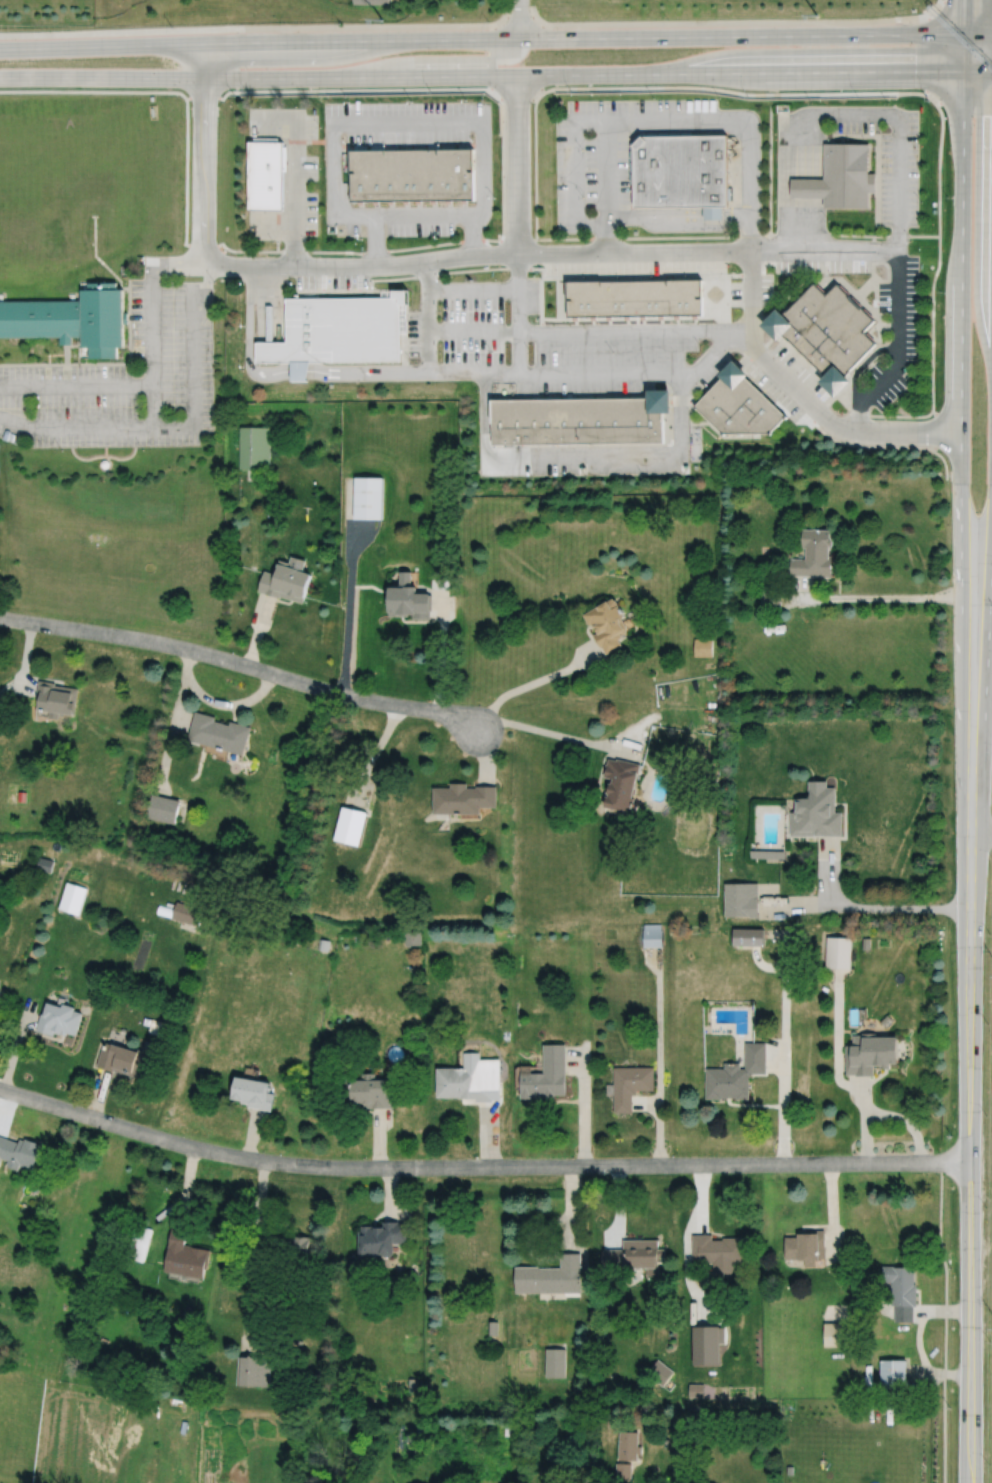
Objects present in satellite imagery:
building: (371, 2)
road: (937, 3)
road: (963, 7)
street lamp: (804, 17)
road: (965, 18)
street lamp: (667, 19)
road: (520, 20)
street lamp: (487, 21)
street lamp: (339, 23)
road: (729, 23)
street lamp: (171, 26)
road: (259, 28)
road: (978, 35)
traffic signals: (965, 36)
road: (482, 39)
road: (934, 51)
road: (964, 53)
road: (433, 59)
traffic signals: (964, 71)
road: (978, 71)
road: (740, 73)
road: (258, 77)
road: (363, 89)
road: (88, 91)
street lamp: (571, 91)
road: (733, 92)
road: (181, 94)
street lamp: (857, 95)
road: (962, 95)
road: (518, 97)
street lamp: (748, 97)
street lamp: (654, 98)
street lamp: (719, 98)
street lamp: (348, 100)
street lamp: (412, 100)
street lamp: (466, 100)
street lamp: (811, 103)
street lamp: (888, 103)
street lamp: (929, 103)
street lamp: (259, 105)
street lamp: (295, 106)
road: (802, 114)
road: (645, 119)
parking lot: (407, 121)
road: (444, 123)
street lamp: (553, 123)
street lamp: (320, 126)
street lamp: (775, 133)
street lamp: (344, 141)
street lamp: (472, 141)
road: (899, 142)
street lamp: (922, 146)
road: (202, 154)
parking lot: (612, 154)
parking lot: (889, 155)
road: (939, 163)
road: (517, 164)
street lamp: (319, 167)
road: (535, 167)
road: (185, 168)
road: (770, 169)
road: (295, 170)
road: (605, 171)
building: (679, 171)
parking lot: (289, 173)
building: (412, 174)
building: (266, 175)
building: (847, 177)
road: (816, 180)
road: (808, 181)
road: (800, 183)
road: (791, 187)
building: (807, 189)
street lamp: (947, 195)
street lamp: (494, 197)
street lamp: (774, 200)
street lamp: (921, 202)
building: (711, 210)
road: (678, 211)
street lamp: (320, 214)
road: (678, 218)
street lamp: (828, 219)
parking lot: (421, 221)
street lamp: (725, 231)
street lamp: (567, 233)
road: (471, 235)
road: (752, 236)
road: (580, 237)
road: (605, 237)
street lamp: (439, 238)
street lamp: (911, 238)
street lamp: (362, 239)
road: (376, 241)
street lamp: (273, 242)
street lamp: (307, 242)
road: (825, 249)
road: (635, 251)
parking lot: (822, 264)
parking lot: (635, 266)
road: (189, 267)
road: (372, 267)
street lamp: (782, 273)
street lamp: (829, 273)
street lamp: (847, 273)
street lamp: (868, 273)
street lamp: (686, 274)
street lamp: (809, 274)
street lamp: (651, 275)
street lamp: (584, 276)
street lamp: (617, 276)
street lamp: (733, 276)
street lamp: (541, 277)
street lamp: (920, 277)
street lamp: (440, 280)
street lamp: (243, 283)
street lamp: (294, 283)
street lamp: (775, 285)
street lamp: (375, 287)
parking lot: (766, 287)
road: (473, 288)
street lamp: (940, 289)
parking lot: (736, 292)
building: (633, 295)
street lamp: (872, 296)
street lamp: (490, 309)
street lamp: (440, 311)
road: (518, 312)
building: (72, 317)
street lamp: (244, 326)
road: (585, 328)
street lamp: (876, 328)
building: (337, 329)
parking lot: (897, 329)
building: (825, 330)
street lamp: (920, 337)
road: (249, 338)
parking lot: (553, 342)
street lamp: (700, 345)
road: (898, 347)
street lamp: (491, 350)
street lamp: (530, 350)
street lamp: (612, 350)
street lamp: (440, 352)
street lamp: (880, 357)
road: (860, 364)
street lamp: (242, 367)
building: (298, 370)
road: (298, 370)
road: (545, 371)
road: (367, 372)
road: (932, 372)
street lamp: (862, 375)
parking lot: (124, 380)
road: (135, 385)
street lamp: (698, 386)
street lamp: (477, 389)
road: (804, 396)
street lamp: (896, 398)
building: (738, 401)
road: (153, 405)
building: (579, 417)
road: (176, 424)
road: (936, 428)
road: (828, 435)
street lamp: (703, 442)
building: (254, 445)
road: (960, 451)
road: (581, 452)
road: (105, 453)
road: (103, 456)
parking lot: (584, 458)
road: (945, 461)
building: (105, 463)
street lamp: (948, 473)
street lamp: (586, 475)
building: (368, 498)
road: (361, 542)
building: (814, 553)
building: (286, 578)
road: (351, 585)
road: (873, 595)
building: (771, 599)
building: (408, 600)
building: (606, 623)
road: (257, 629)
road: (442, 645)
building: (703, 646)
road: (240, 662)
road: (24, 663)
road: (531, 682)
building: (56, 699)
road: (983, 699)
road: (217, 701)
road: (171, 730)
building: (218, 731)
road: (573, 737)
road: (372, 752)
road: (486, 753)
building: (620, 782)
building: (22, 796)
building: (462, 797)
building: (162, 806)
building: (816, 810)
building: (349, 823)
road: (981, 832)
building: (767, 853)
building: (45, 863)
road: (829, 869)
building: (73, 896)
building: (741, 898)
road: (866, 907)
building: (187, 912)
building: (652, 934)
street lamp: (990, 934)
building: (747, 936)
building: (412, 937)
building: (866, 942)
building: (323, 943)
building: (839, 950)
road: (763, 964)
building: (0, 990)
building: (60, 1018)
building: (886, 1020)
street lamp: (988, 1024)
road: (837, 1040)
road: (16, 1045)
road: (784, 1046)
building: (871, 1052)
road: (659, 1054)
building: (122, 1059)
building: (736, 1073)
building: (545, 1074)
building: (471, 1078)
building: (629, 1085)
building: (368, 1091)
road: (96, 1092)
building: (253, 1092)
road: (583, 1102)
road: (8, 1113)
street lamp: (986, 1115)
road: (865, 1119)
road: (906, 1121)
road: (251, 1133)
road: (489, 1134)
road: (379, 1139)
building: (20, 1152)
road: (971, 1157)
road: (480, 1166)
road: (186, 1184)
road: (390, 1192)
road: (619, 1205)
road: (572, 1208)
street lamp: (986, 1208)
road: (832, 1209)
road: (864, 1216)
building: (380, 1238)
building: (138, 1242)
road: (530, 1242)
road: (686, 1242)
building: (292, 1246)
building: (806, 1246)
building: (718, 1251)
building: (184, 1255)
building: (634, 1255)
road: (254, 1256)
building: (550, 1276)
building: (901, 1291)
road: (943, 1310)
road: (945, 1322)
building: (492, 1328)
building: (837, 1334)
road: (918, 1342)
street lamp: (985, 1343)
building: (706, 1344)
building: (554, 1362)
building: (248, 1371)
building: (659, 1372)
road: (939, 1372)
building: (892, 1374)
building: (696, 1390)
building: (647, 1431)
building: (628, 1446)
road: (647, 1462)
street lamp: (985, 1468)
building: (790, 1469)
building: (623, 1472)

